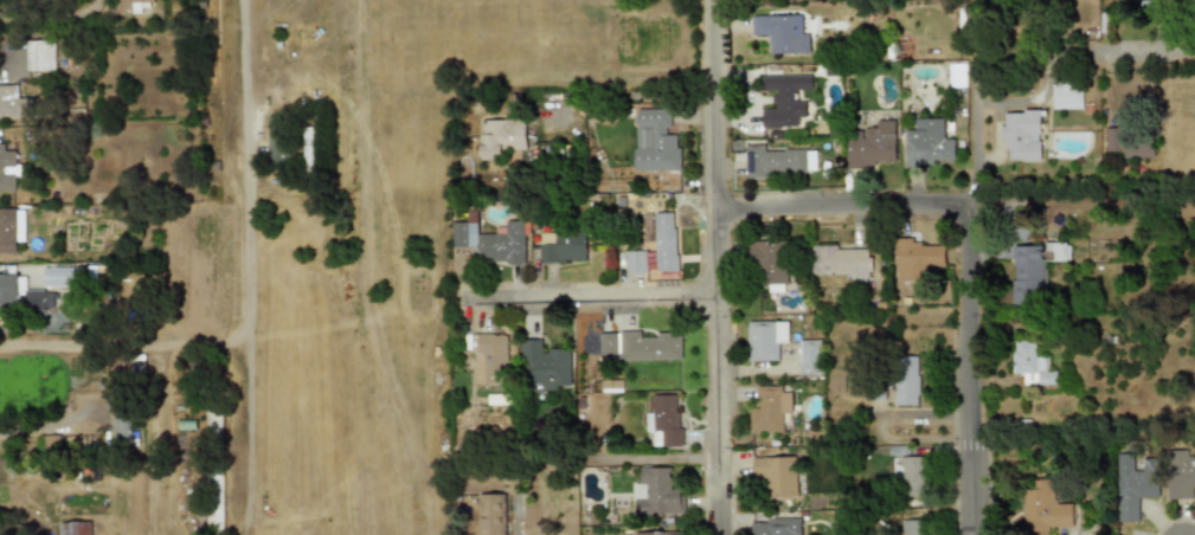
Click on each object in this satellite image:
building: (1189, 4)
building: (128, 6)
road: (51, 15)
building: (782, 33)
building: (40, 54)
road: (1040, 86)
road: (630, 94)
building: (1065, 94)
building: (783, 99)
building: (14, 103)
road: (709, 105)
building: (1021, 134)
building: (500, 136)
building: (277, 140)
building: (654, 140)
building: (1129, 141)
building: (872, 143)
building: (927, 143)
building: (778, 161)
building: (7, 169)
road: (246, 211)
building: (464, 231)
building: (7, 232)
building: (664, 241)
road: (968, 241)
building: (502, 245)
building: (564, 249)
building: (1056, 251)
building: (917, 259)
building: (840, 260)
building: (635, 262)
building: (771, 262)
building: (1028, 275)
building: (57, 276)
building: (21, 294)
road: (585, 297)
building: (765, 339)
road: (127, 343)
building: (640, 346)
building: (809, 356)
building: (488, 359)
building: (1032, 363)
building: (544, 366)
road: (708, 373)
building: (906, 380)
building: (769, 408)
building: (667, 418)
building: (121, 420)
road: (21, 430)
building: (51, 441)
road: (648, 456)
building: (1180, 473)
building: (776, 475)
building: (914, 476)
building: (1135, 484)
building: (657, 494)
building: (1045, 507)
building: (492, 515)
building: (775, 527)
building: (917, 527)
building: (75, 528)
building: (656, 533)

